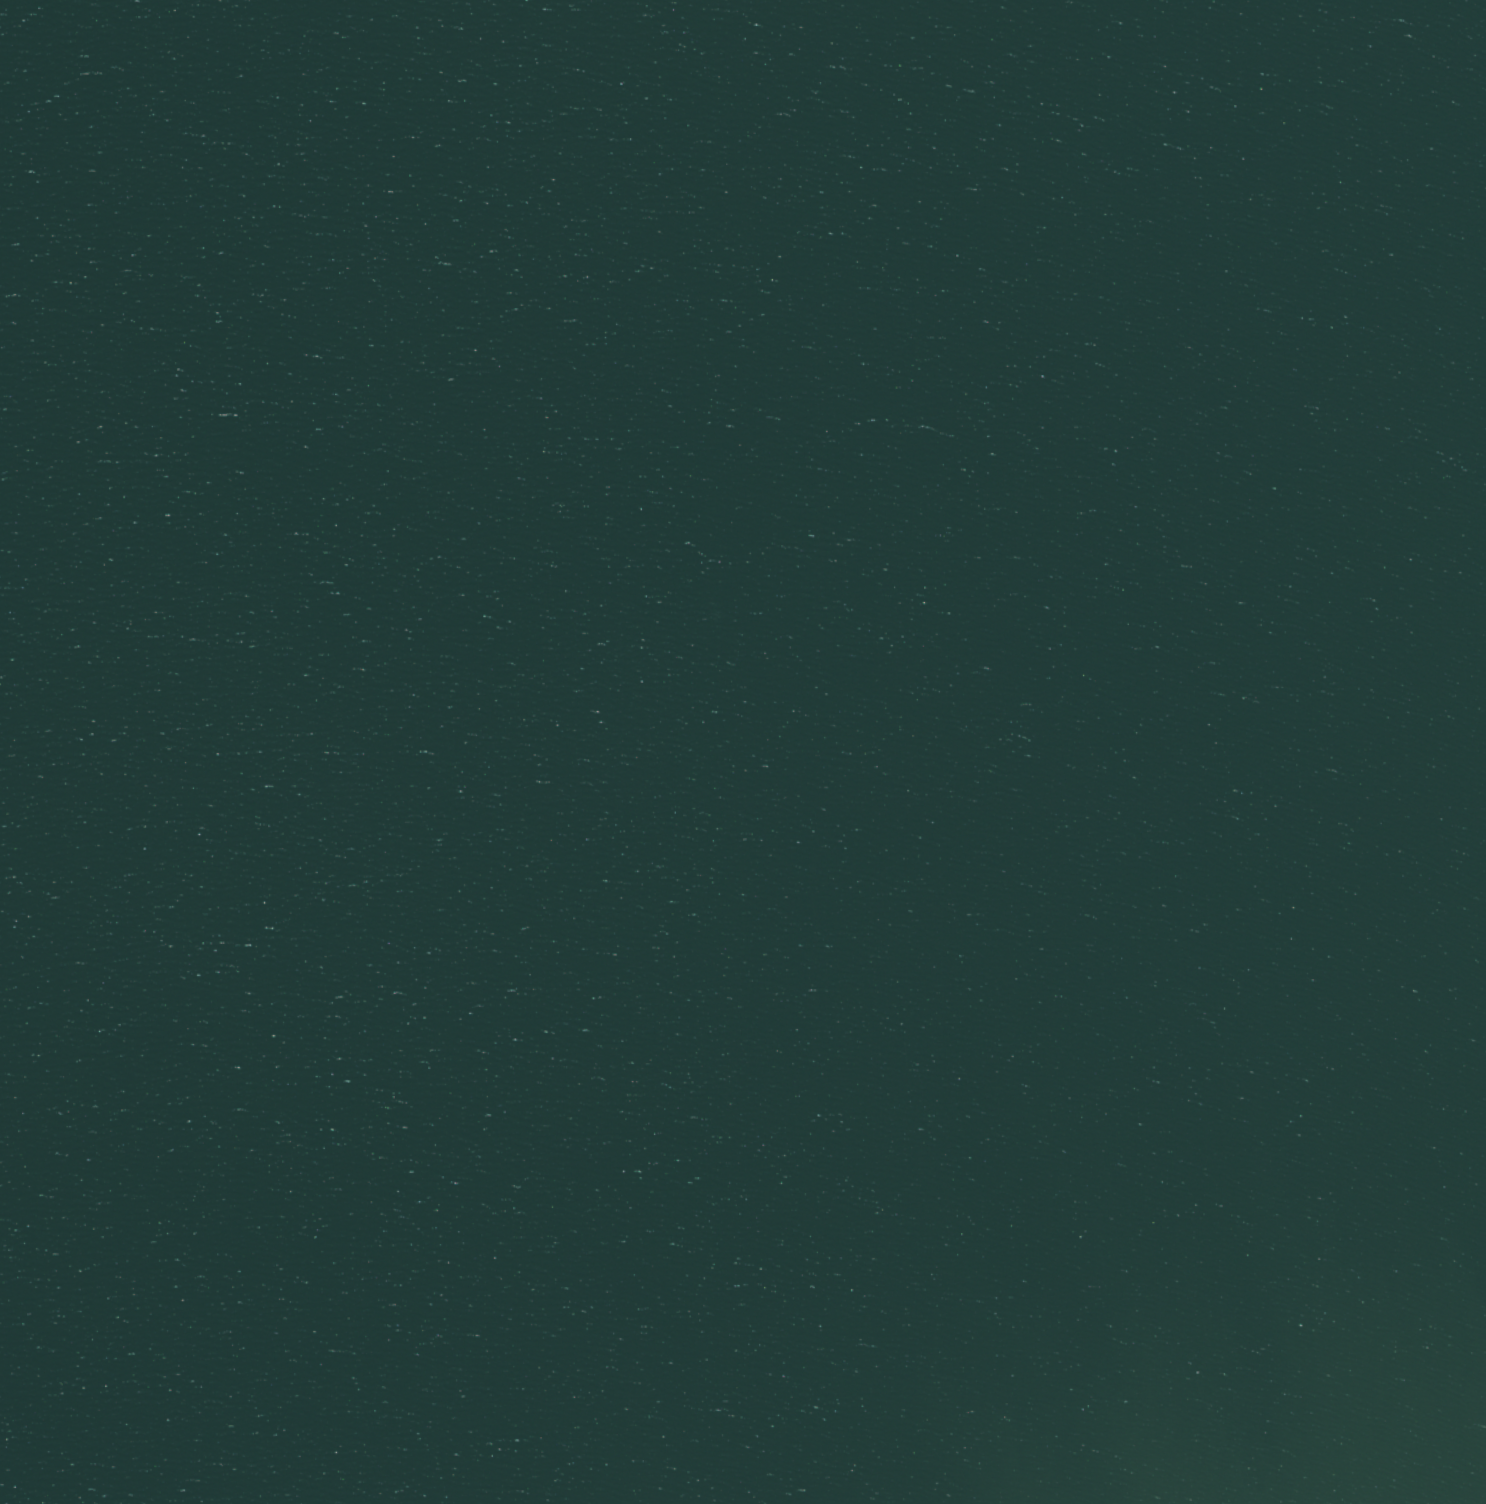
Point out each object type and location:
river: (741, 572)

